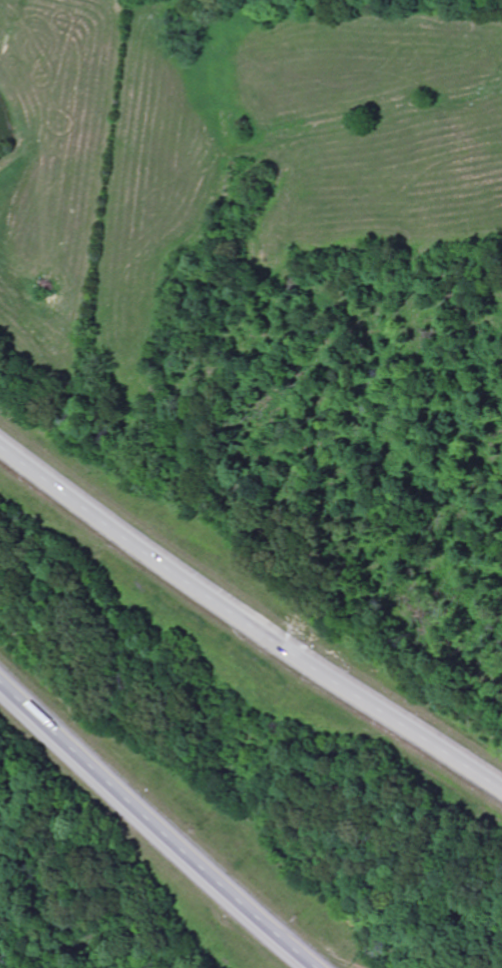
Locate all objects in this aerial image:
road: (248, 625)
road: (156, 826)

